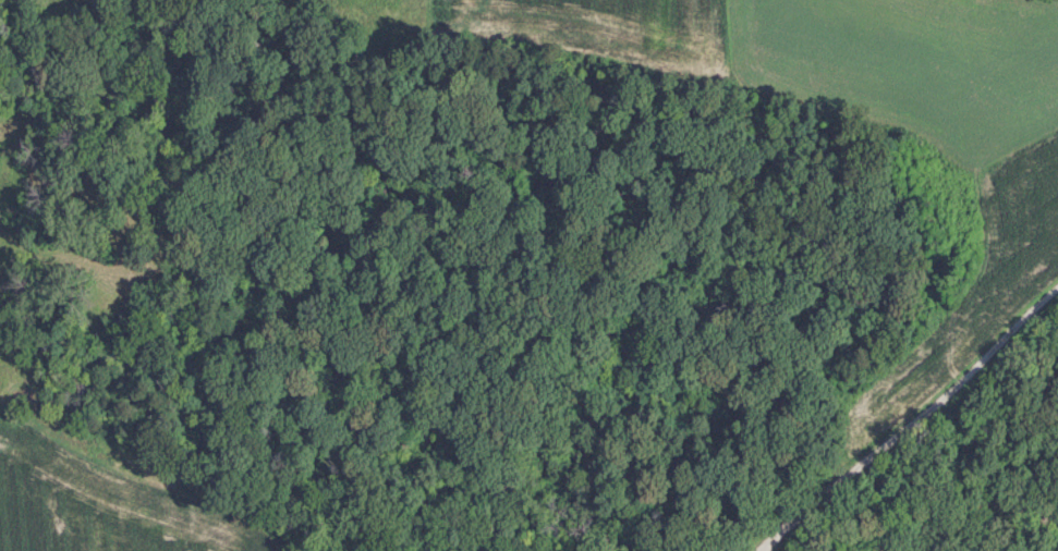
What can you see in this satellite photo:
road: (909, 421)

